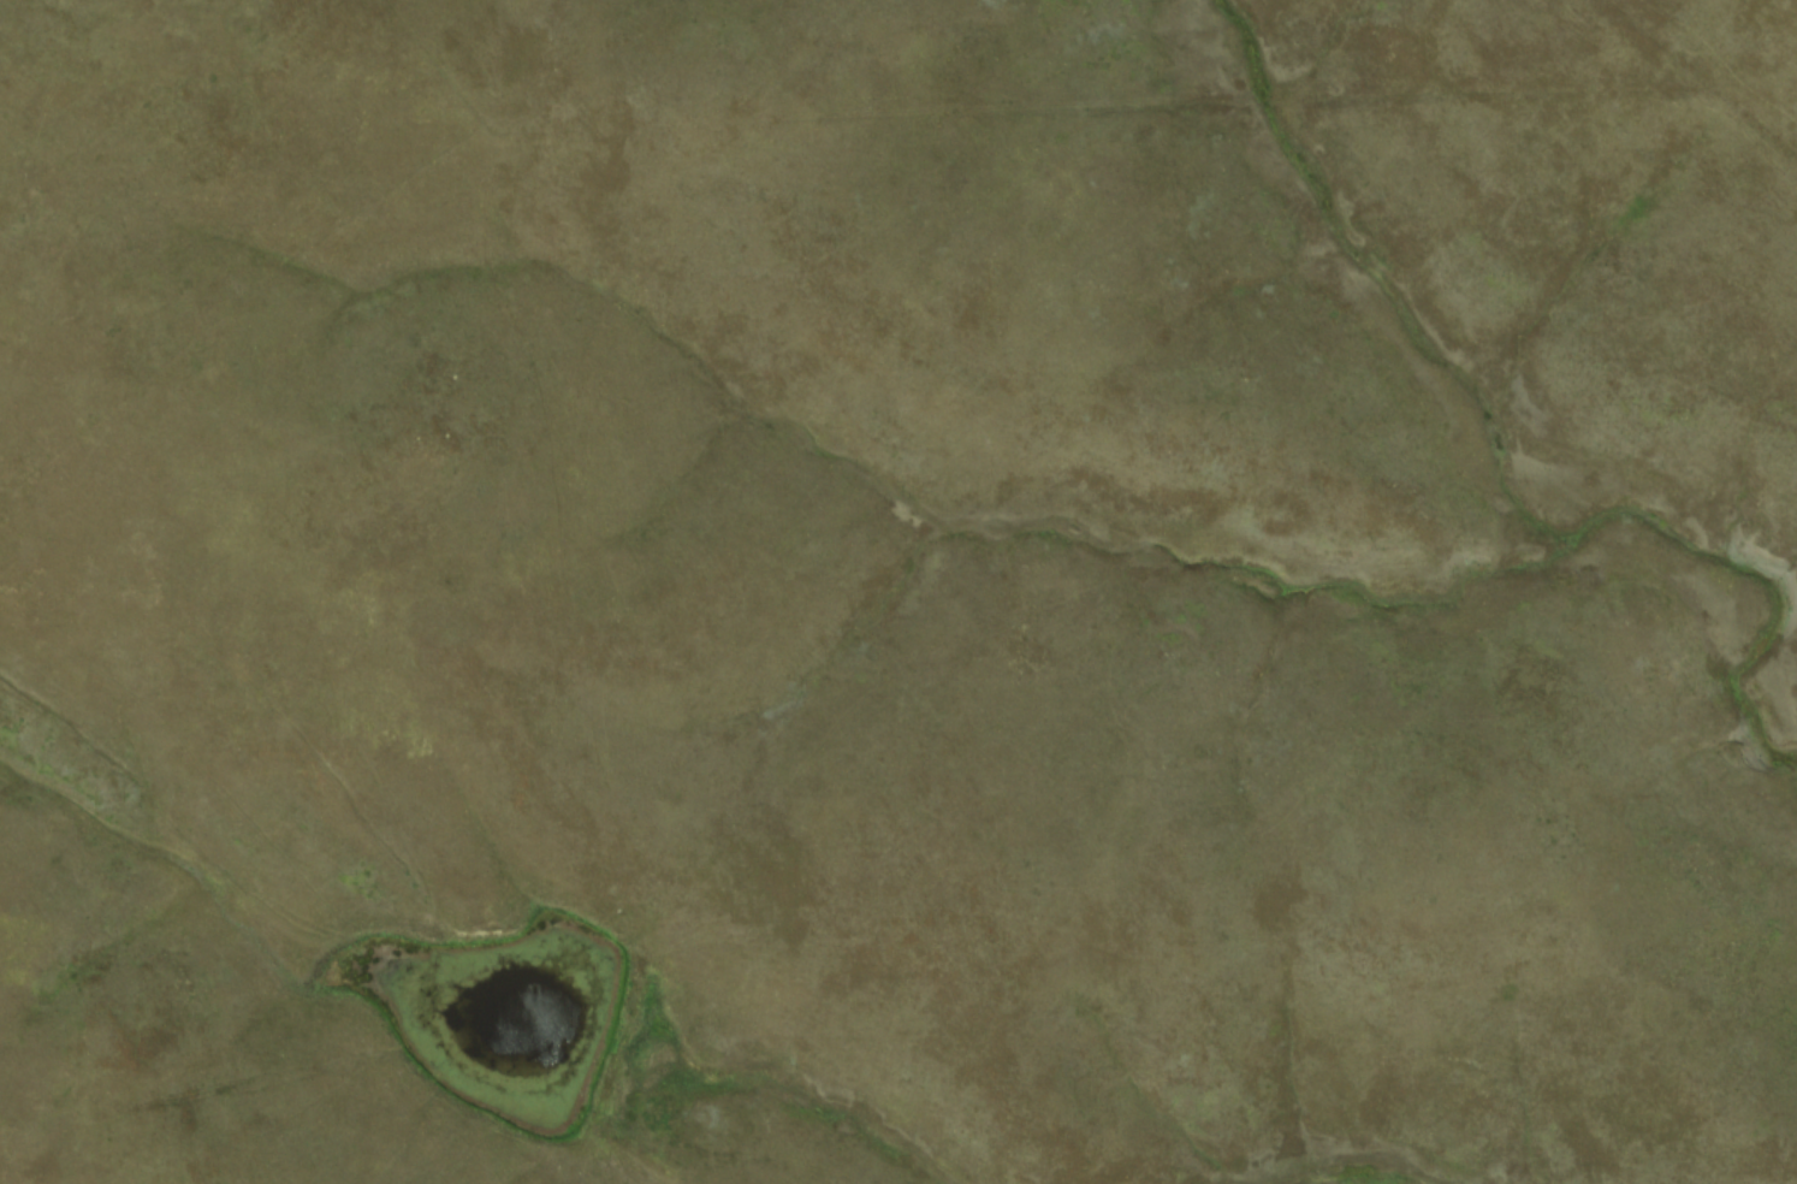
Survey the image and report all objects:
road: (1722, 61)

